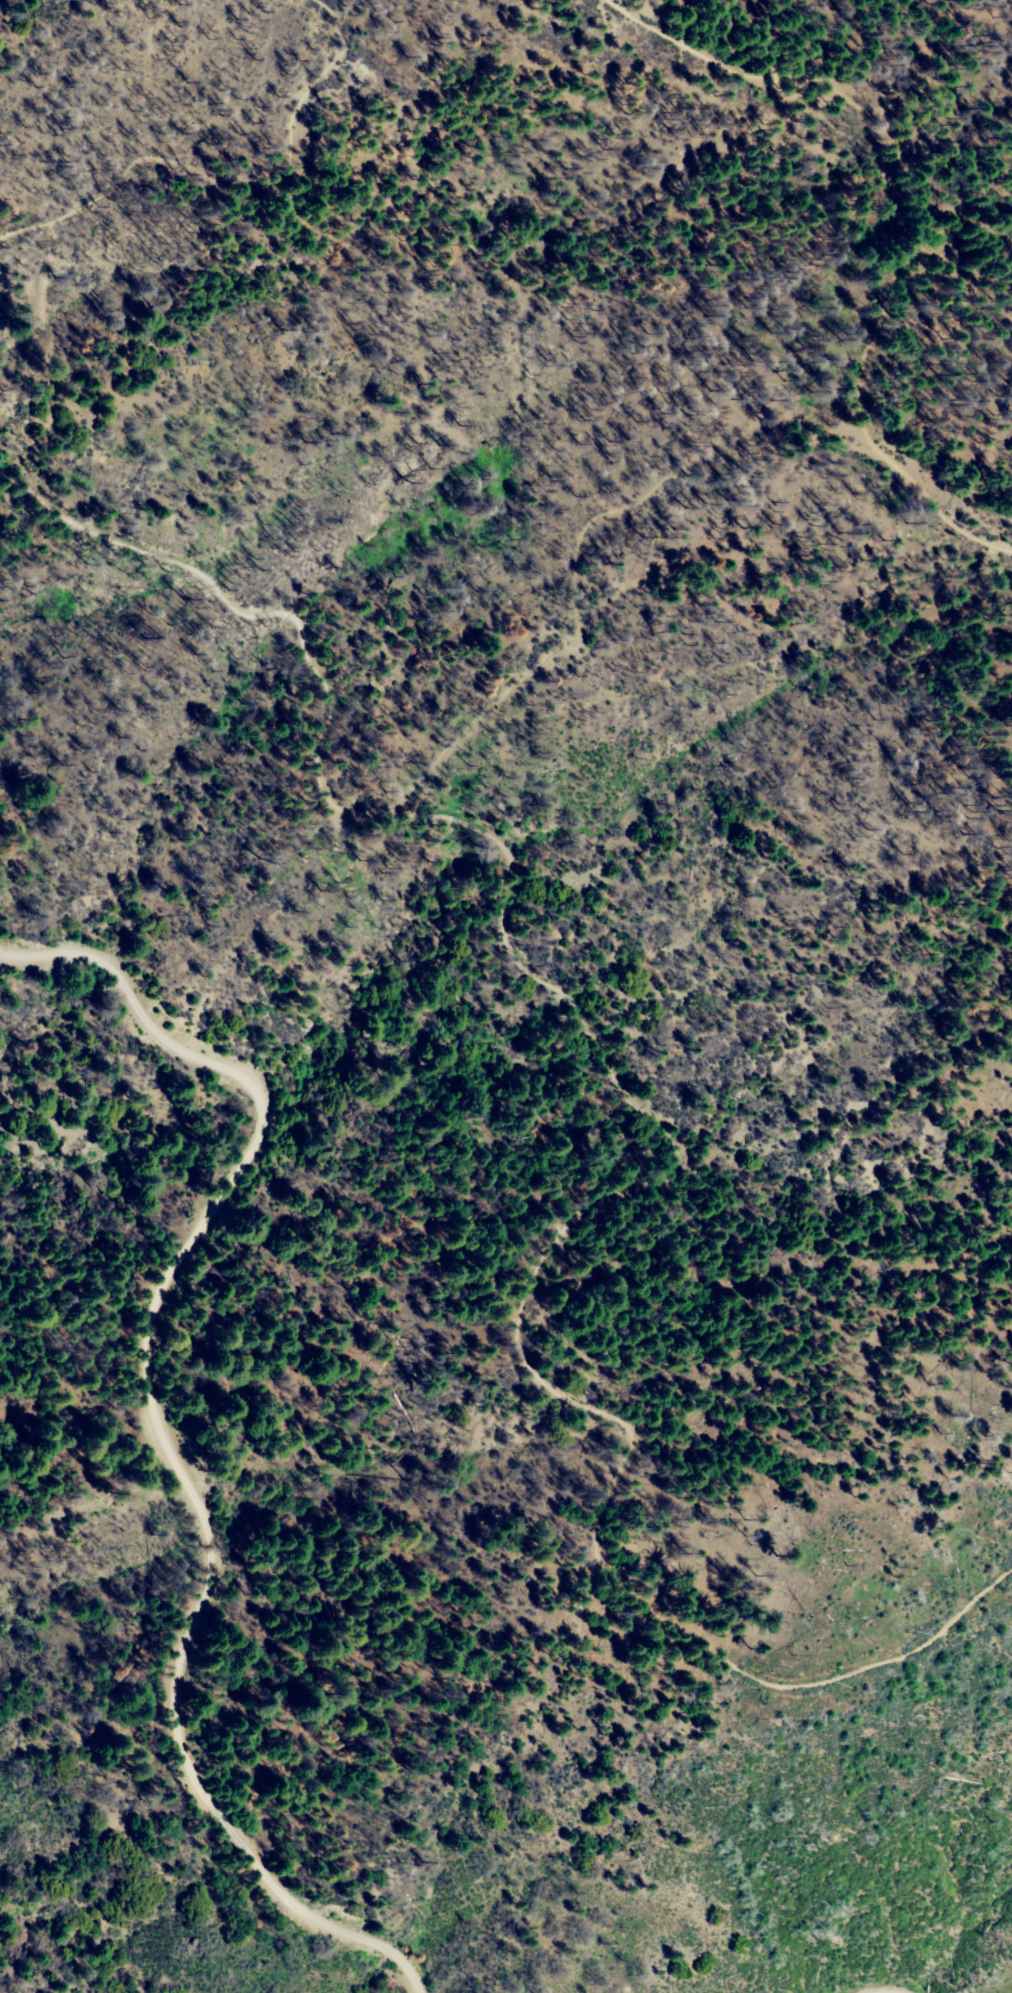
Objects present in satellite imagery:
road: (155, 1431)
road: (888, 1988)

